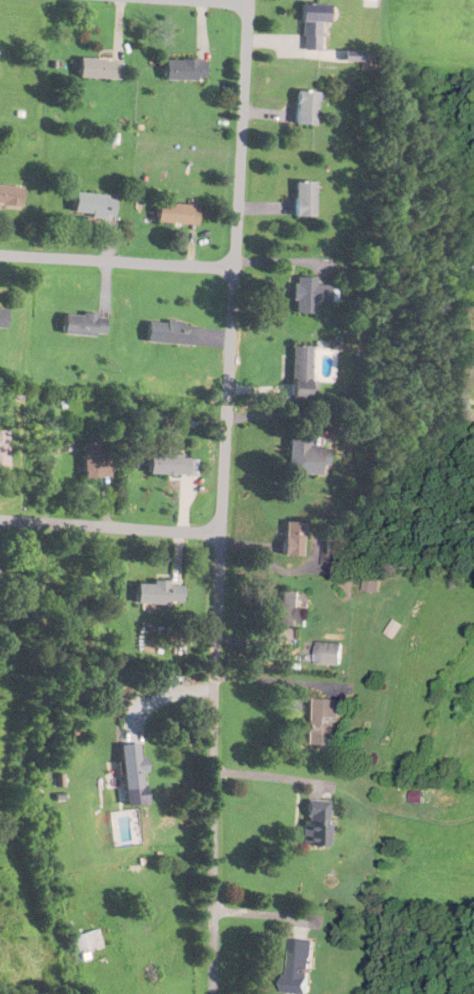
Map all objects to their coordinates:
road: (214, 1)
building: (314, 24)
building: (99, 68)
building: (185, 69)
building: (307, 107)
building: (10, 195)
building: (305, 198)
building: (94, 204)
building: (177, 213)
road: (116, 263)
building: (312, 291)
building: (2, 318)
building: (84, 325)
building: (171, 333)
road: (230, 338)
building: (302, 374)
building: (4, 449)
building: (307, 458)
building: (96, 460)
building: (169, 465)
road: (109, 528)
building: (295, 539)
building: (336, 551)
building: (160, 593)
building: (291, 609)
road: (30, 650)
building: (332, 654)
building: (322, 719)
building: (133, 767)
road: (269, 776)
building: (317, 823)
road: (209, 835)
building: (86, 942)
building: (301, 967)

